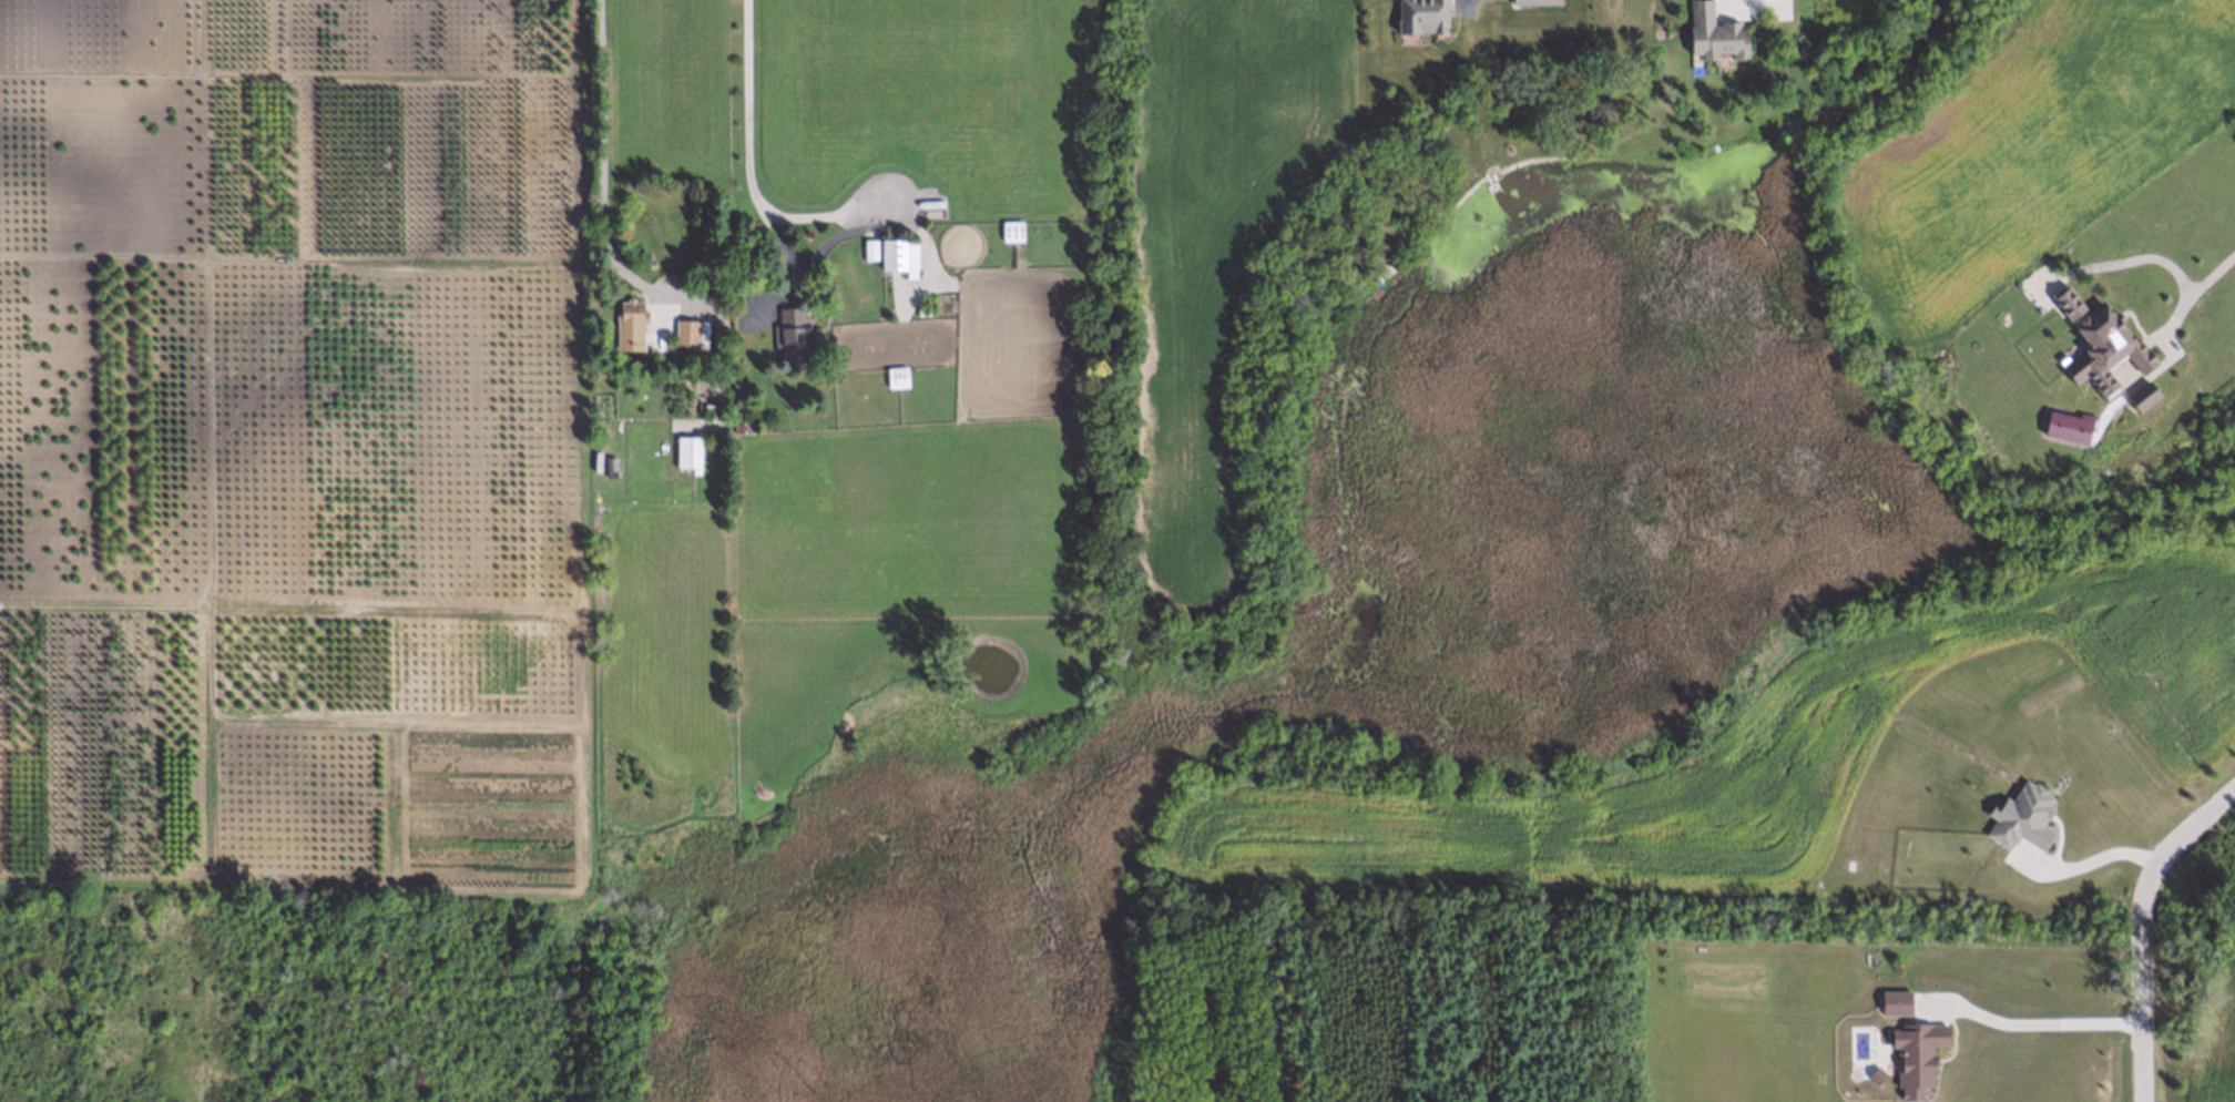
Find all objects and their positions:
building: (1533, 1)
road: (1761, 6)
building: (1419, 17)
building: (1710, 35)
building: (1798, 50)
road: (746, 173)
road: (605, 174)
building: (1009, 228)
road: (824, 243)
building: (891, 253)
road: (2127, 259)
road: (2193, 289)
building: (2058, 300)
building: (626, 323)
building: (690, 330)
building: (789, 334)
building: (2096, 350)
building: (703, 368)
building: (895, 374)
building: (2134, 395)
building: (705, 405)
building: (743, 424)
building: (686, 450)
building: (609, 466)
building: (2021, 814)
road: (2086, 860)
road: (2142, 926)
road: (2039, 1022)
building: (1915, 1052)

